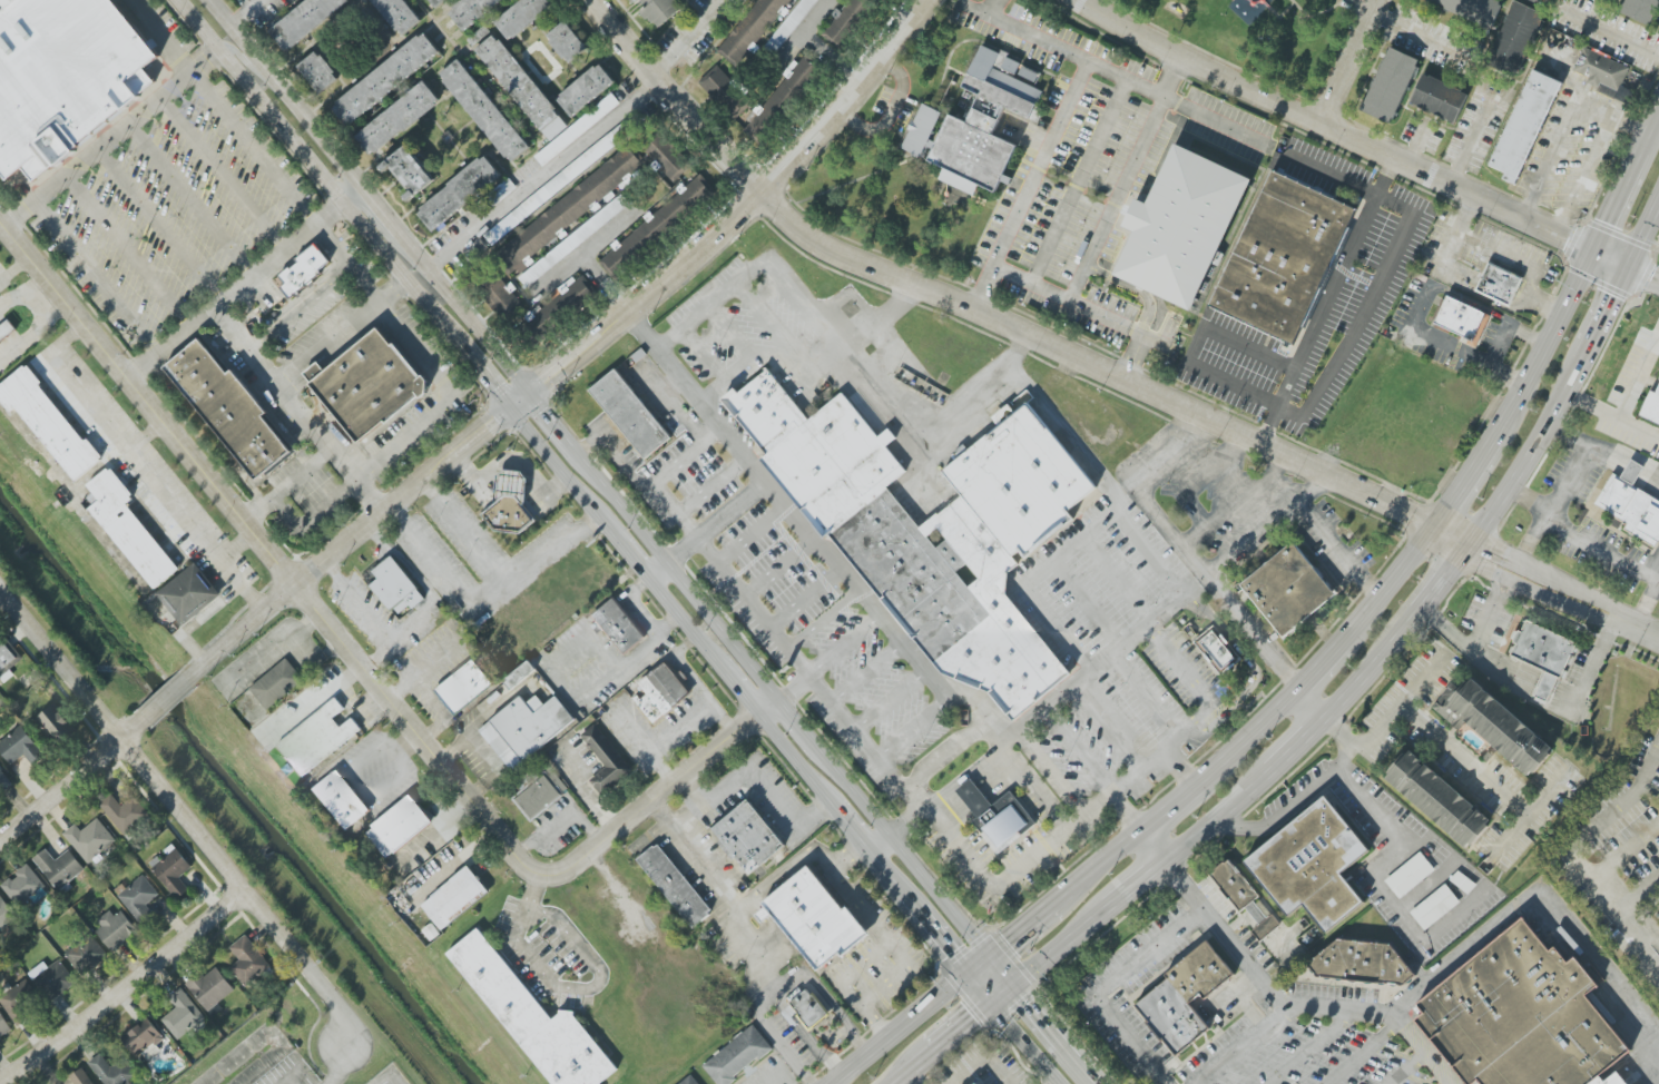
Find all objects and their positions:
building: (635, 0)
building: (1614, 0)
parking lot: (242, 2)
building: (436, 2)
building: (1544, 2)
road: (997, 6)
building: (1471, 9)
building: (660, 10)
building: (1641, 10)
building: (471, 11)
road: (247, 12)
building: (399, 14)
road: (991, 14)
building: (522, 17)
building: (305, 20)
building: (789, 26)
road: (803, 26)
building: (755, 31)
park: (1262, 31)
road: (683, 36)
road: (1420, 36)
road: (1608, 36)
building: (1515, 38)
building: (567, 42)
road: (213, 56)
road: (832, 58)
road: (247, 60)
road: (1349, 62)
road: (1176, 69)
building: (318, 72)
building: (1603, 73)
road: (1110, 76)
building: (62, 77)
building: (385, 79)
building: (518, 82)
building: (1390, 85)
building: (586, 90)
building: (723, 90)
building: (779, 98)
building: (1439, 98)
building: (484, 111)
road: (224, 114)
road: (892, 116)
road: (1612, 117)
building: (397, 119)
building: (985, 122)
building: (1524, 126)
building: (577, 130)
building: (921, 130)
road: (1649, 130)
road: (118, 131)
road: (1470, 137)
road: (1560, 137)
road: (1415, 144)
road: (1361, 145)
building: (666, 157)
road: (1593, 159)
road: (1038, 168)
parking lot: (1088, 170)
building: (409, 171)
road: (224, 173)
road: (316, 173)
road: (542, 174)
road: (1078, 183)
road: (1119, 189)
building: (459, 194)
road: (370, 196)
parking lot: (164, 197)
road: (188, 201)
road: (1618, 203)
road: (336, 210)
building: (567, 211)
road: (17, 214)
road: (737, 220)
road: (161, 224)
building: (657, 226)
road: (386, 231)
building: (1184, 234)
road: (1643, 234)
building: (572, 242)
road: (333, 246)
road: (127, 252)
traffic signals: (1596, 253)
road: (581, 254)
building: (1279, 256)
road: (1505, 257)
traffic signals: (1628, 267)
road: (14, 269)
road: (756, 269)
building: (303, 272)
road: (95, 278)
road: (366, 282)
road: (243, 284)
building: (1498, 284)
road: (981, 290)
building: (500, 297)
road: (1061, 298)
road: (1472, 300)
road: (1324, 302)
building: (558, 307)
road: (300, 308)
road: (995, 319)
building: (1462, 321)
road: (1601, 321)
road: (1508, 328)
building: (7, 332)
road: (340, 332)
road: (1549, 345)
road: (1446, 347)
road: (1135, 354)
building: (639, 355)
road: (143, 365)
road: (1333, 366)
road: (484, 376)
road: (272, 378)
road: (1639, 380)
building: (367, 385)
traffic signals: (532, 390)
road: (444, 397)
road: (892, 398)
parking lot: (1631, 400)
building: (1650, 404)
building: (229, 410)
building: (629, 413)
road: (1611, 418)
building: (48, 422)
road: (557, 423)
road: (147, 435)
road: (689, 456)
road: (320, 459)
road: (1528, 463)
road: (145, 466)
road: (565, 476)
road: (1466, 482)
road: (711, 485)
road: (1240, 490)
building: (509, 503)
building: (1631, 504)
road: (789, 507)
road: (1552, 509)
road: (718, 522)
road: (1543, 523)
parking lot: (1591, 524)
road: (1101, 526)
building: (129, 529)
building: (932, 529)
road: (462, 533)
road: (754, 535)
road: (1327, 538)
road: (350, 541)
road: (237, 544)
road: (1147, 550)
road: (1069, 551)
road: (1184, 551)
road: (541, 553)
road: (430, 560)
road: (634, 561)
road: (775, 561)
road: (657, 569)
road: (1547, 578)
road: (681, 579)
road: (1445, 580)
road: (1392, 583)
road: (1499, 585)
building: (395, 588)
building: (1285, 589)
road: (798, 590)
road: (1510, 591)
road: (1539, 592)
building: (189, 594)
road: (1645, 603)
road: (635, 604)
road: (1047, 614)
road: (821, 618)
road: (681, 620)
road: (413, 623)
building: (619, 627)
road: (1637, 629)
road: (781, 641)
road: (845, 647)
building: (1539, 647)
road: (645, 648)
road: (274, 649)
building: (1217, 650)
road: (1467, 651)
road: (377, 653)
road: (315, 657)
building: (7, 660)
road: (1593, 660)
road: (362, 663)
road: (1321, 663)
road: (423, 668)
road: (1254, 668)
road: (1370, 668)
road: (867, 673)
road: (1521, 678)
road: (416, 681)
road: (1078, 683)
building: (276, 684)
building: (463, 687)
road: (333, 688)
road: (794, 689)
road: (738, 690)
building: (660, 691)
road: (430, 699)
road: (165, 701)
road: (891, 701)
road: (1307, 707)
road: (1402, 708)
road: (1115, 720)
building: (57, 725)
road: (798, 726)
road: (436, 727)
building: (1495, 727)
building: (526, 728)
road: (912, 728)
road: (1245, 735)
road: (1335, 735)
building: (321, 736)
road: (1296, 746)
building: (20, 747)
road: (946, 749)
road: (1078, 752)
road: (1343, 758)
building: (606, 760)
road: (797, 762)
road: (1464, 762)
road: (1137, 771)
road: (968, 775)
building: (3, 779)
road: (69, 782)
road: (753, 782)
road: (1039, 785)
road: (693, 789)
building: (540, 795)
road: (920, 797)
building: (973, 798)
building: (1433, 798)
building: (342, 800)
road: (1168, 804)
building: (124, 812)
road: (870, 812)
road: (1280, 812)
road: (1528, 814)
road: (175, 817)
road: (1218, 818)
building: (1004, 819)
road: (907, 820)
building: (399, 827)
road: (851, 829)
building: (747, 837)
building: (90, 839)
road: (1578, 840)
road: (878, 842)
road: (1151, 846)
road: (698, 857)
road: (1102, 858)
road: (825, 861)
building: (1307, 863)
building: (59, 868)
building: (173, 873)
road: (1010, 873)
road: (886, 874)
building: (1407, 875)
road: (778, 880)
road: (1377, 883)
building: (22, 885)
road: (1429, 885)
building: (675, 886)
building: (1229, 886)
road: (1138, 887)
road: (1535, 897)
building: (139, 898)
building: (454, 898)
road: (1624, 903)
road: (524, 904)
building: (1432, 906)
building: (6, 914)
road: (955, 915)
building: (815, 919)
road: (1028, 920)
building: (116, 929)
building: (431, 932)
road: (935, 934)
road: (1636, 935)
road: (1226, 936)
road: (890, 943)
road: (746, 948)
road: (1064, 950)
traffic signals: (989, 954)
building: (87, 955)
building: (248, 962)
building: (1358, 962)
traffic signals: (966, 972)
road: (1002, 973)
road: (294, 978)
building: (52, 979)
road: (788, 980)
road: (599, 982)
road: (1102, 987)
building: (212, 988)
road: (980, 991)
road: (122, 993)
traffic signals: (1017, 993)
building: (1179, 996)
building: (20, 1001)
building: (808, 1008)
traffic signals: (994, 1009)
building: (181, 1015)
road: (1037, 1015)
road: (1382, 1015)
building: (1521, 1017)
building: (532, 1018)
road: (907, 1018)
road: (973, 1023)
building: (3, 1026)
building: (143, 1037)
road: (779, 1039)
road: (1029, 1046)
road: (1244, 1046)
road: (1305, 1049)
road: (1362, 1055)
building: (737, 1056)
road: (980, 1058)
road: (336, 1061)
road: (1079, 1061)
road: (910, 1068)
building: (112, 1071)
road: (1405, 1071)
parking lot: (291, 1073)
road: (389, 1074)
road: (324, 1076)
parking lot: (390, 1076)
building: (80, 1077)
road: (777, 1077)
road: (911, 1077)
building: (689, 1081)
road: (289, 1082)

